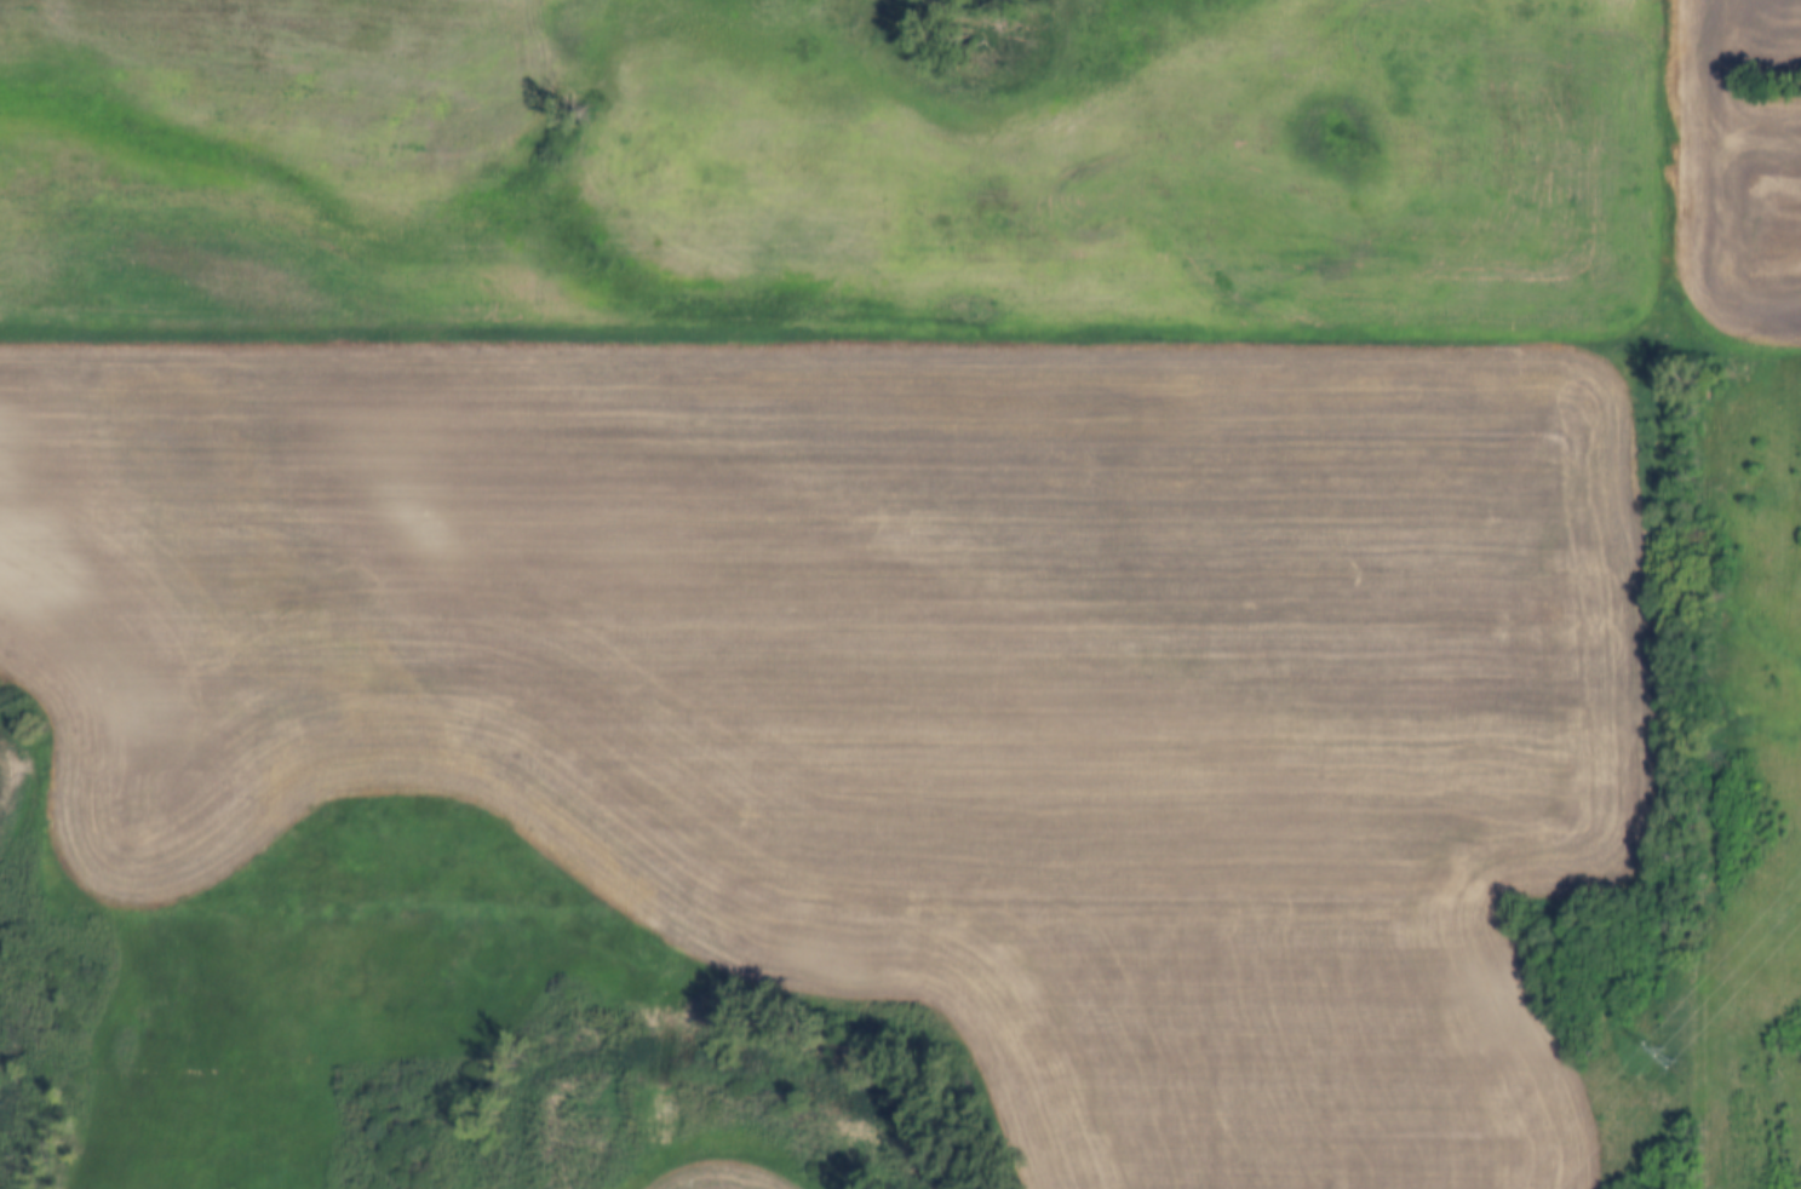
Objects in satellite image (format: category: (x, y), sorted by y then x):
road: (900, 335)
power tower: (1669, 1049)

